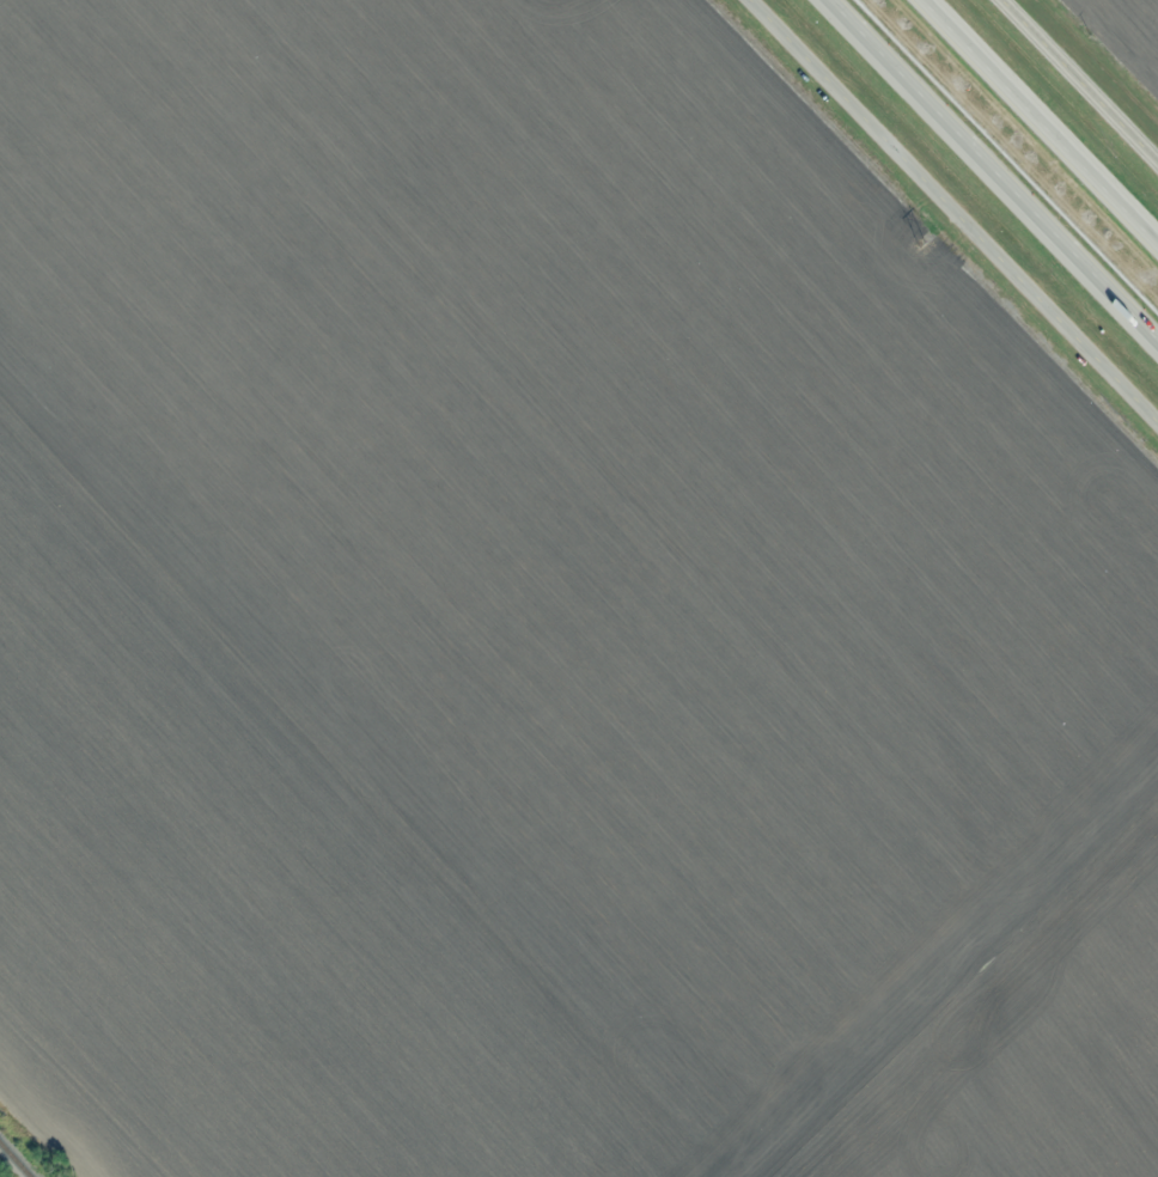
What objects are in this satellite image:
road: (1083, 78)
road: (1042, 120)
road: (993, 170)
road: (952, 213)
power tower: (921, 243)
railway: (12, 1161)

